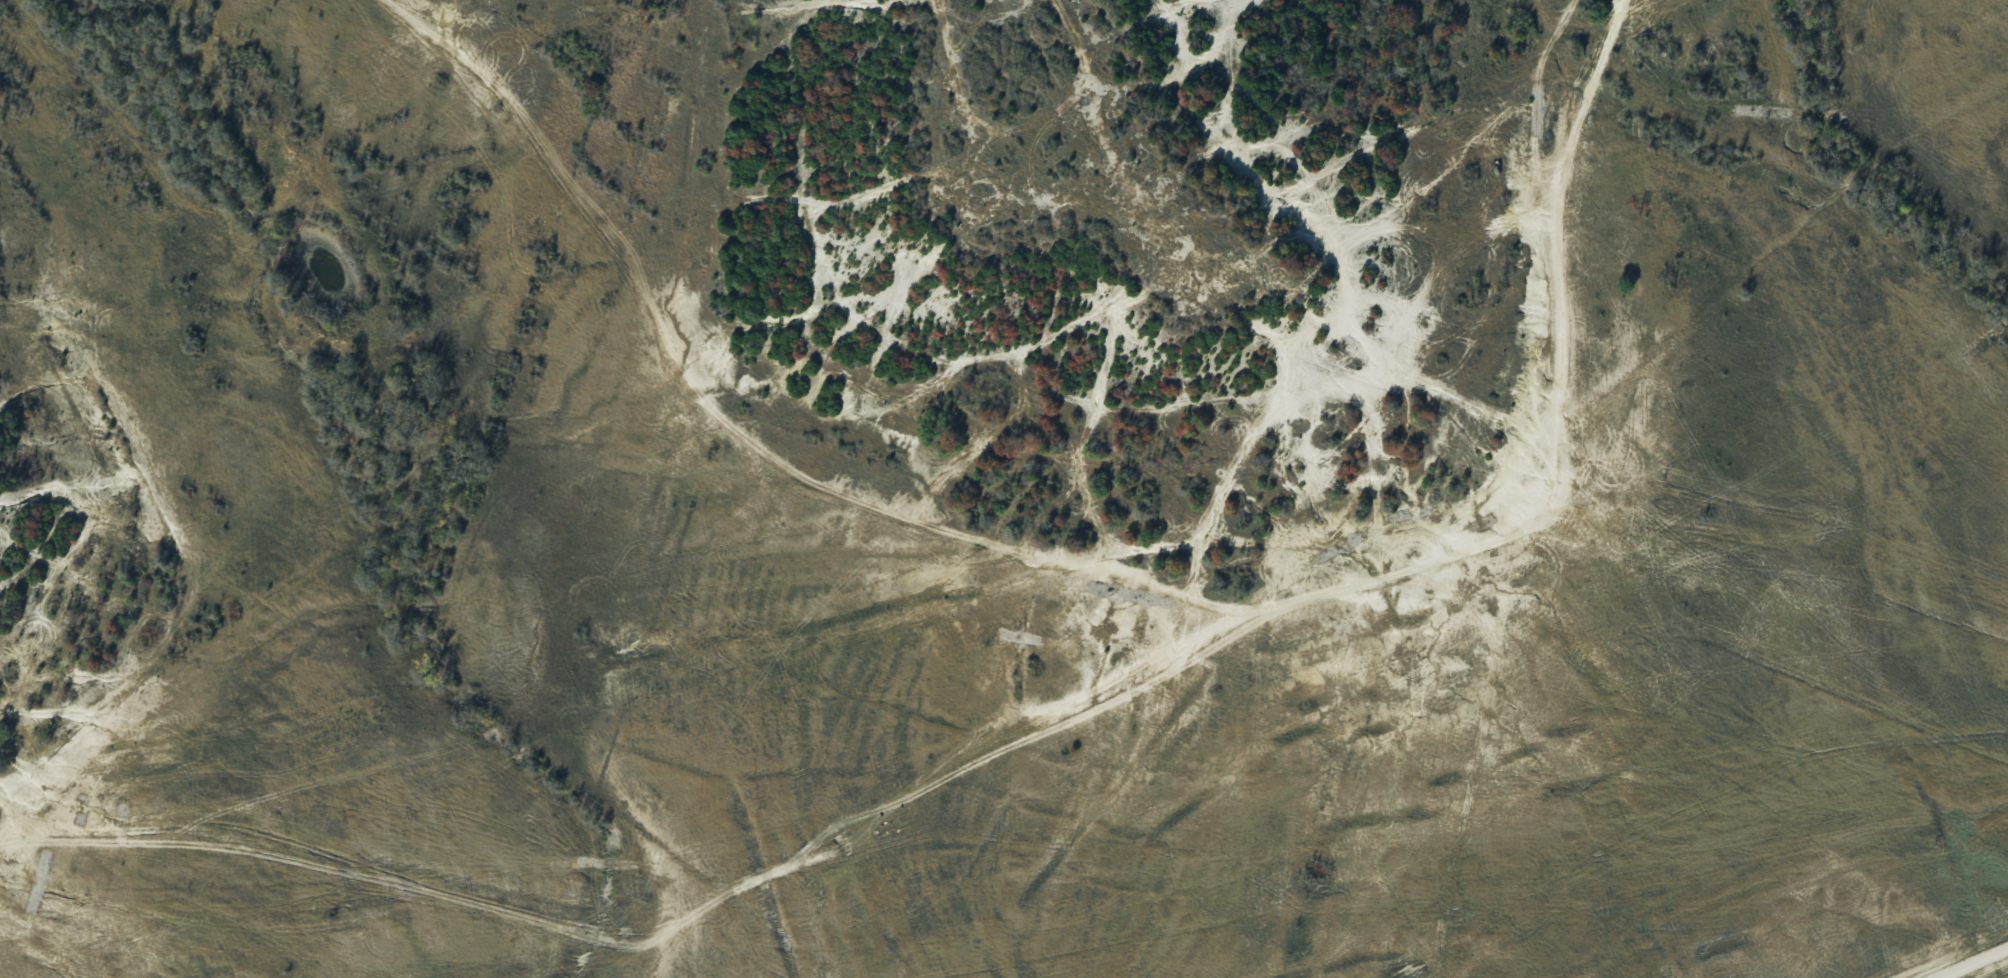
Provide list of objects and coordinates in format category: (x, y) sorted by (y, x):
road: (1978, 965)

